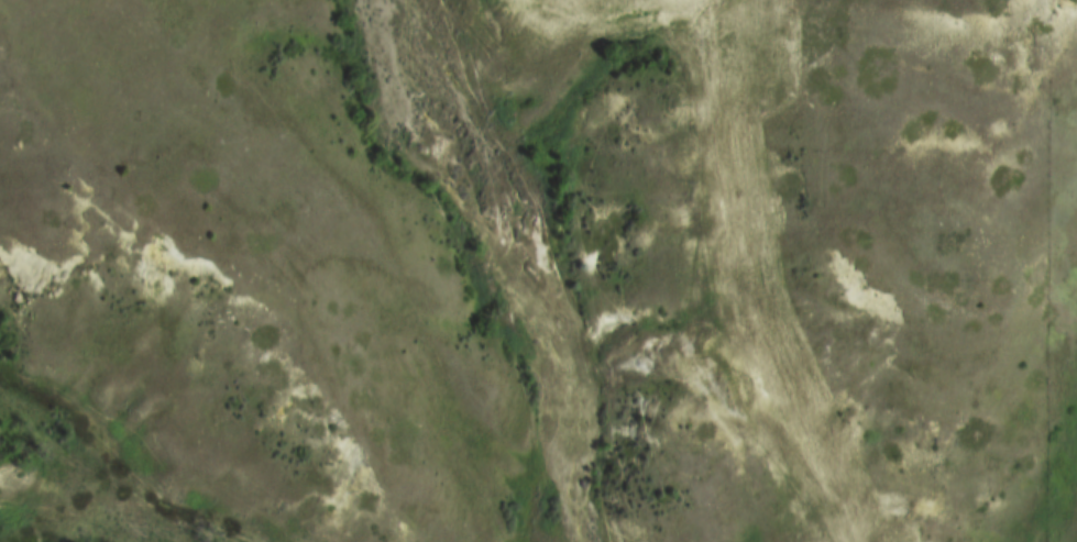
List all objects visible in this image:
road: (748, 281)

